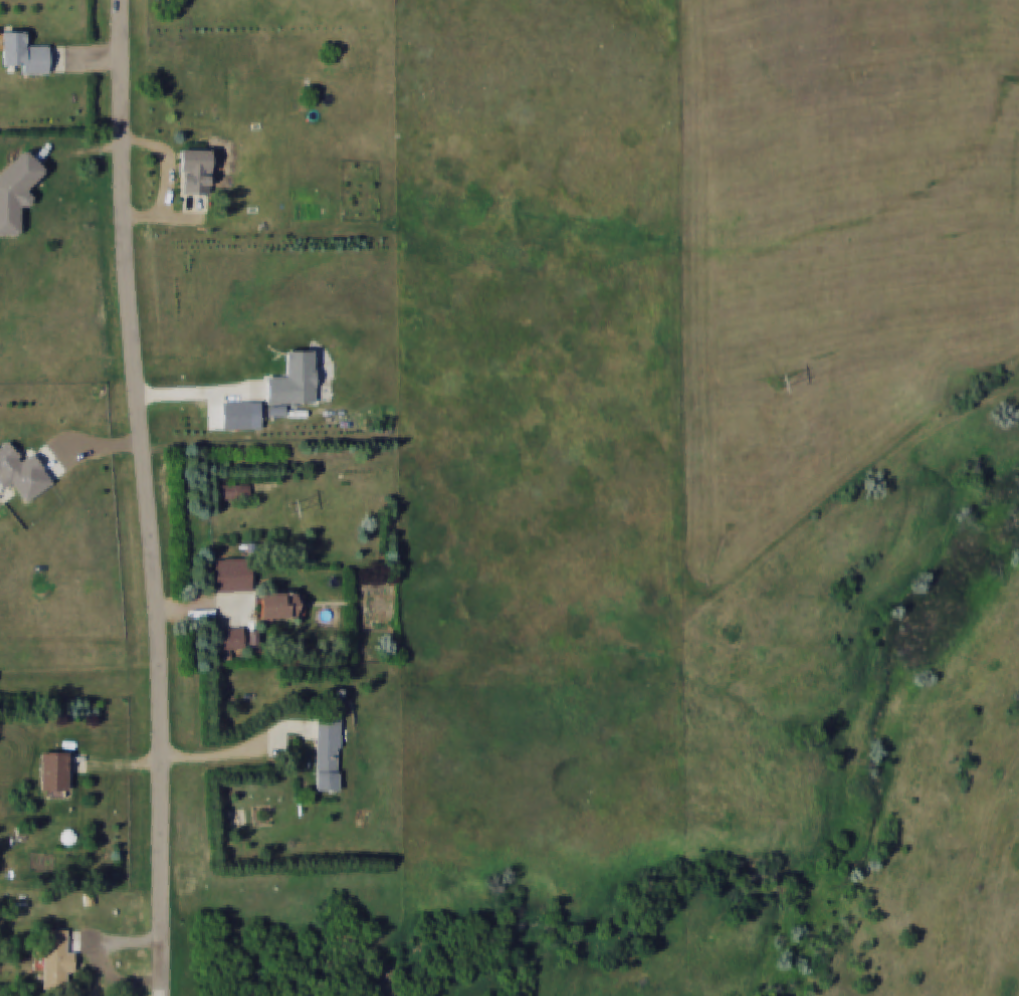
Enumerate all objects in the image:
building: (24, 54)
building: (195, 172)
building: (17, 192)
building: (294, 381)
power tower: (787, 387)
building: (237, 416)
building: (21, 473)
building: (235, 492)
road: (146, 497)
power tower: (301, 512)
building: (233, 576)
building: (283, 607)
building: (254, 639)
building: (230, 642)
road: (230, 751)
building: (328, 753)
building: (55, 774)
building: (60, 956)

